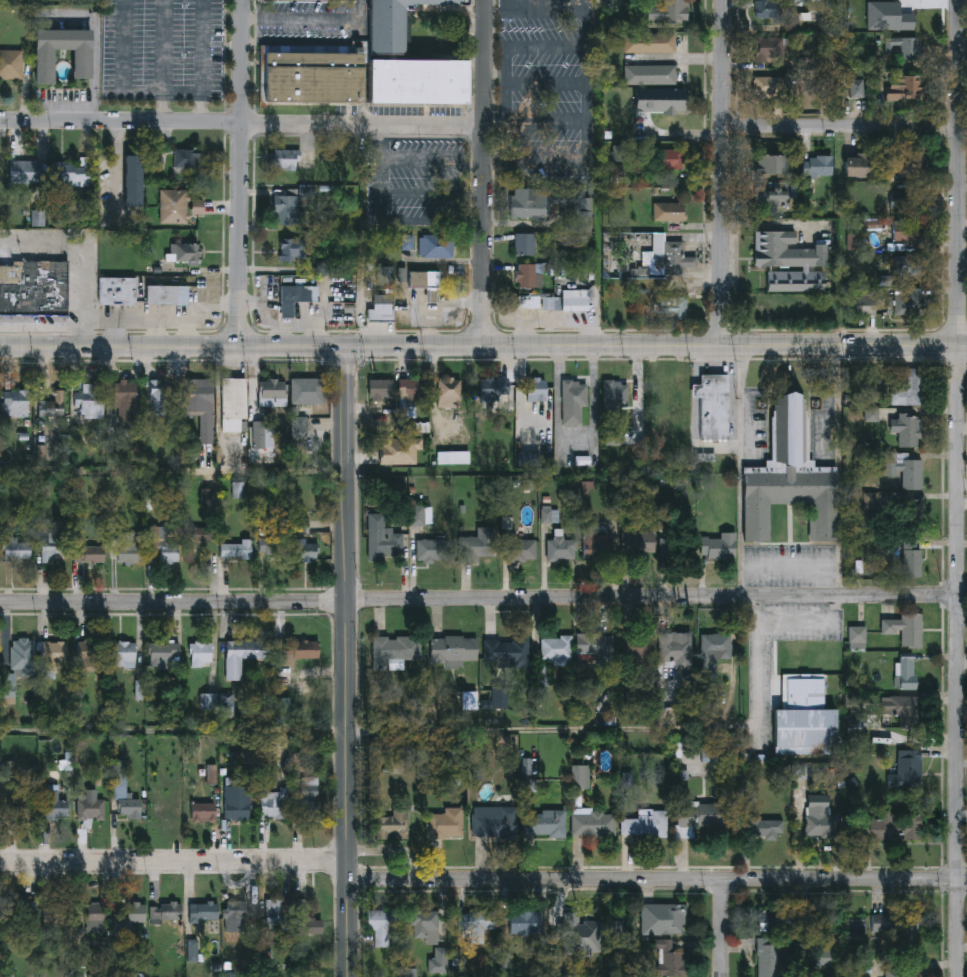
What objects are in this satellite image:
road: (493, 0)
building: (767, 8)
building: (670, 11)
building: (885, 17)
parking lot: (310, 28)
road: (356, 32)
building: (649, 43)
building: (904, 45)
road: (125, 47)
building: (769, 48)
parking lot: (165, 51)
building: (830, 57)
road: (687, 58)
road: (203, 62)
building: (44, 63)
road: (165, 63)
building: (11, 64)
parking lot: (546, 64)
building: (370, 66)
road: (96, 73)
building: (649, 75)
building: (771, 86)
building: (854, 86)
building: (904, 87)
road: (163, 95)
building: (659, 100)
road: (53, 106)
road: (588, 113)
road: (842, 124)
road: (240, 126)
building: (186, 159)
building: (286, 160)
road: (417, 161)
building: (536, 162)
building: (669, 162)
building: (909, 162)
building: (772, 163)
road: (119, 165)
building: (860, 165)
building: (816, 166)
building: (25, 172)
building: (72, 173)
road: (241, 173)
road: (479, 173)
road: (719, 173)
building: (133, 181)
parking lot: (418, 184)
road: (431, 196)
building: (770, 196)
building: (907, 199)
building: (178, 207)
building: (288, 211)
building: (529, 212)
building: (668, 212)
road: (960, 216)
road: (400, 221)
road: (770, 225)
building: (906, 231)
building: (524, 245)
building: (437, 248)
building: (785, 250)
building: (293, 251)
building: (187, 253)
road: (81, 255)
building: (670, 258)
building: (907, 266)
building: (527, 275)
building: (424, 281)
building: (795, 281)
building: (34, 290)
building: (118, 291)
building: (167, 295)
building: (293, 300)
building: (529, 301)
building: (575, 301)
building: (909, 302)
road: (226, 305)
building: (671, 308)
building: (384, 309)
road: (167, 320)
road: (953, 327)
road: (237, 330)
road: (719, 330)
road: (840, 330)
road: (481, 331)
road: (598, 331)
road: (359, 332)
road: (110, 333)
road: (190, 333)
road: (117, 334)
road: (160, 334)
road: (119, 347)
traffic signals: (347, 347)
road: (359, 347)
road: (723, 347)
road: (653, 360)
road: (953, 361)
road: (163, 362)
road: (345, 363)
building: (381, 388)
building: (907, 388)
building: (413, 389)
building: (536, 389)
building: (496, 391)
building: (304, 392)
building: (449, 392)
building: (159, 395)
building: (270, 395)
building: (574, 400)
building: (615, 400)
building: (88, 401)
building: (13, 404)
building: (124, 404)
building: (231, 405)
building: (50, 406)
building: (196, 406)
building: (711, 407)
building: (909, 430)
building: (260, 435)
building: (399, 451)
road: (842, 470)
road: (744, 471)
building: (906, 471)
road: (173, 473)
building: (790, 476)
road: (953, 488)
building: (914, 511)
building: (383, 539)
building: (194, 540)
building: (595, 544)
building: (639, 544)
building: (54, 545)
building: (273, 545)
building: (478, 546)
building: (718, 546)
building: (126, 547)
building: (161, 547)
building: (517, 547)
building: (561, 547)
building: (16, 548)
building: (675, 548)
building: (236, 549)
building: (90, 551)
building: (433, 551)
building: (308, 552)
building: (911, 557)
parking lot: (792, 567)
road: (793, 567)
road: (650, 596)
road: (174, 601)
road: (812, 626)
building: (904, 629)
building: (857, 639)
building: (597, 643)
building: (717, 646)
building: (299, 648)
building: (556, 648)
building: (453, 649)
building: (639, 649)
building: (675, 649)
building: (199, 650)
building: (506, 650)
building: (395, 651)
building: (53, 653)
building: (125, 654)
building: (90, 655)
building: (161, 655)
building: (242, 655)
building: (22, 656)
road: (348, 662)
building: (905, 672)
road: (757, 680)
parking lot: (762, 703)
building: (906, 711)
building: (804, 718)
road: (174, 730)
building: (859, 733)
building: (907, 770)
building: (581, 786)
building: (124, 791)
building: (310, 799)
building: (238, 801)
building: (20, 802)
building: (273, 802)
building: (53, 803)
building: (0, 805)
building: (90, 808)
building: (204, 811)
building: (699, 816)
building: (494, 821)
building: (823, 823)
building: (445, 824)
building: (544, 824)
building: (591, 824)
building: (643, 824)
building: (390, 825)
building: (911, 826)
building: (761, 828)
building: (872, 830)
road: (174, 860)
road: (657, 879)
building: (20, 908)
building: (93, 911)
building: (135, 911)
building: (167, 912)
building: (279, 912)
building: (236, 915)
building: (204, 916)
building: (307, 919)
building: (661, 919)
building: (475, 921)
building: (775, 921)
building: (523, 923)
building: (423, 924)
building: (897, 924)
building: (381, 925)
road: (723, 928)
building: (577, 929)
building: (821, 939)
building: (668, 958)
building: (769, 960)
building: (439, 968)
building: (899, 972)

